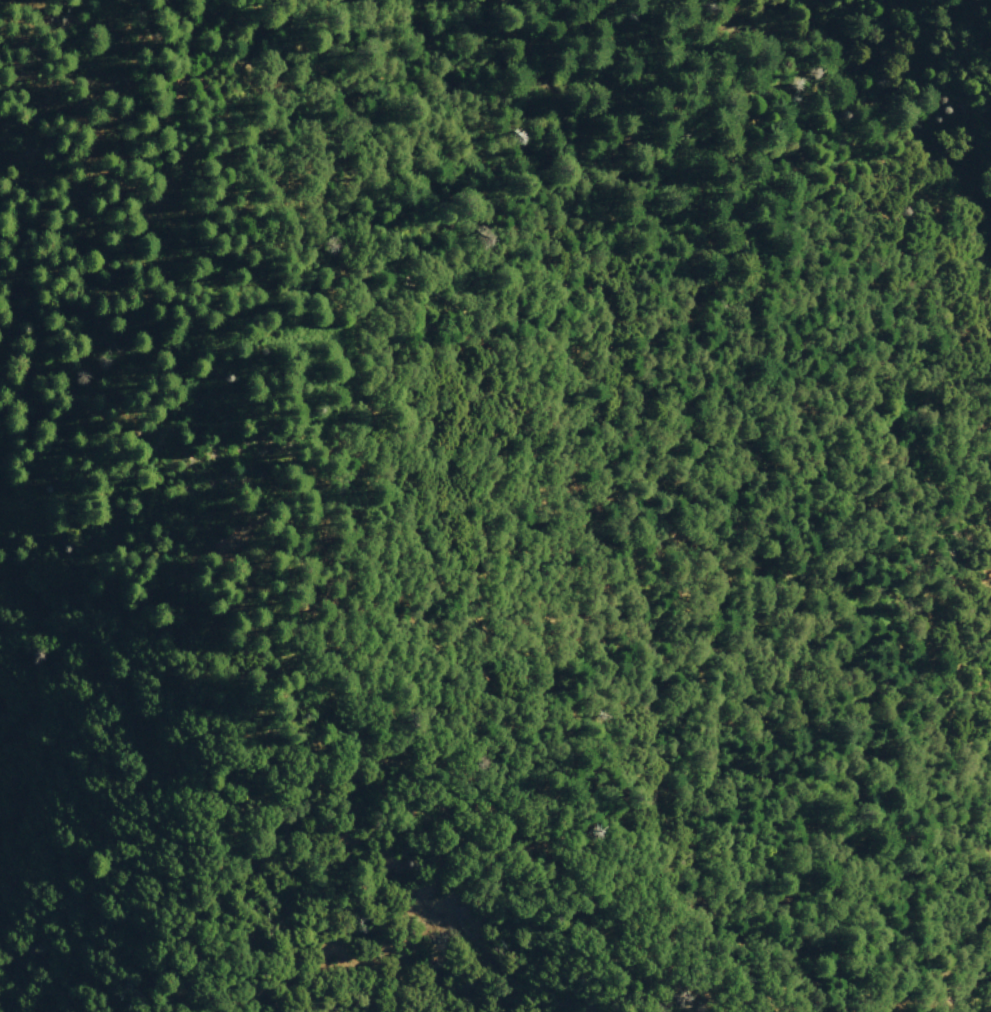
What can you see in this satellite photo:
road: (890, 153)

